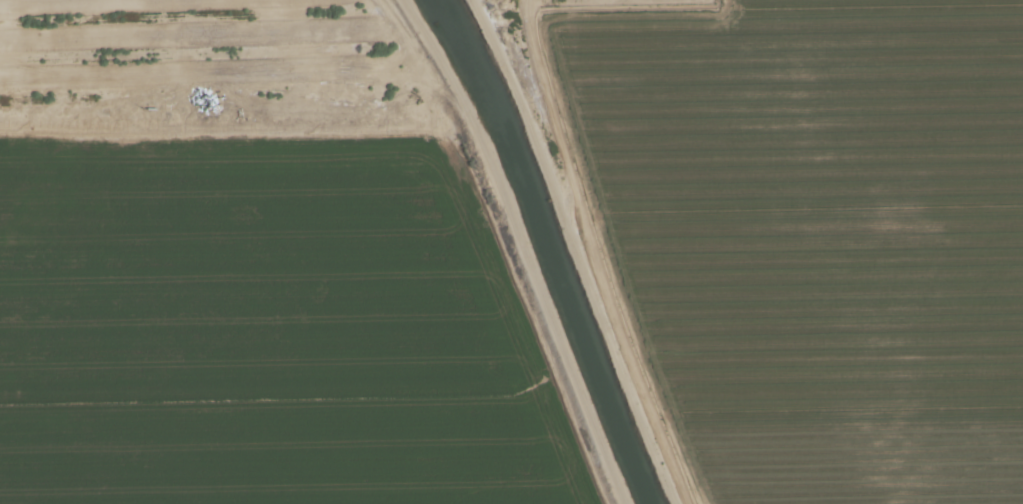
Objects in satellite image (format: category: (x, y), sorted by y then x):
crop: (821, 238)
crop: (268, 328)

